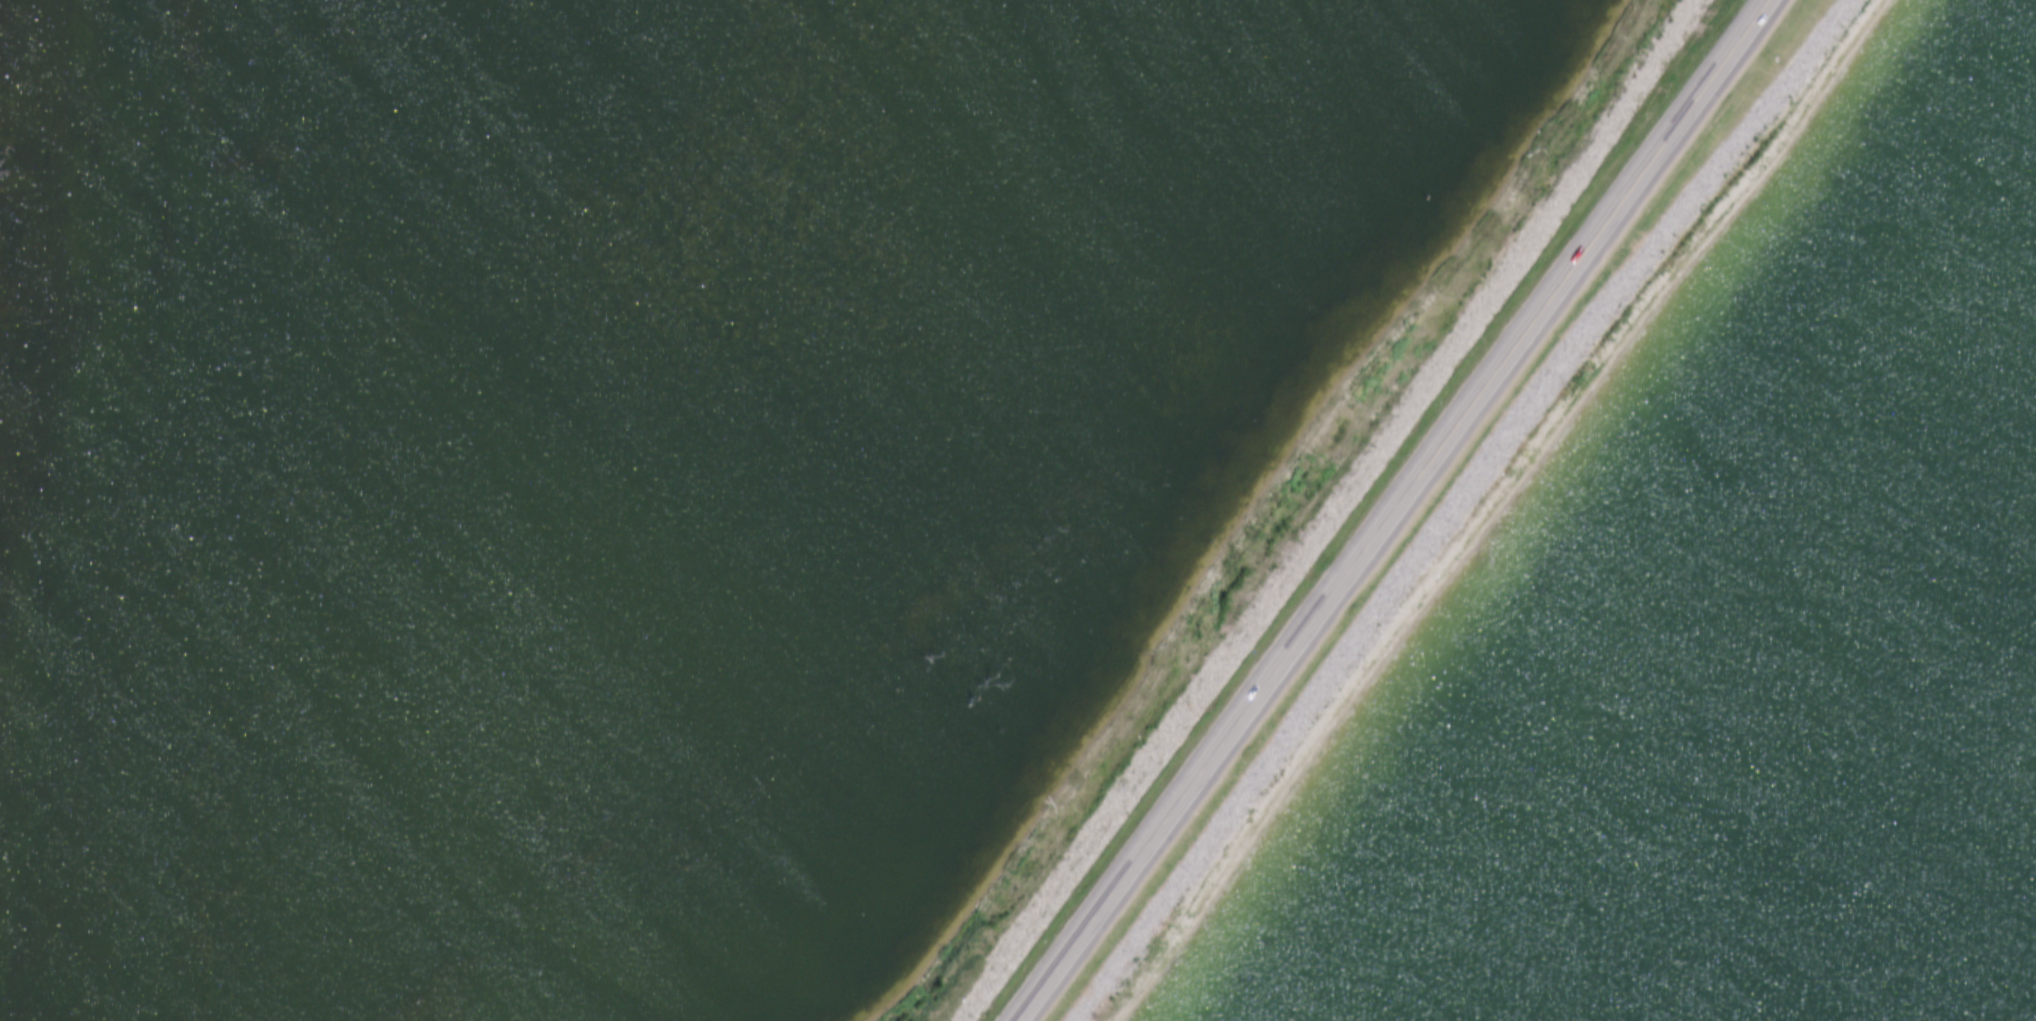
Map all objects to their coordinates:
road: (1398, 510)

